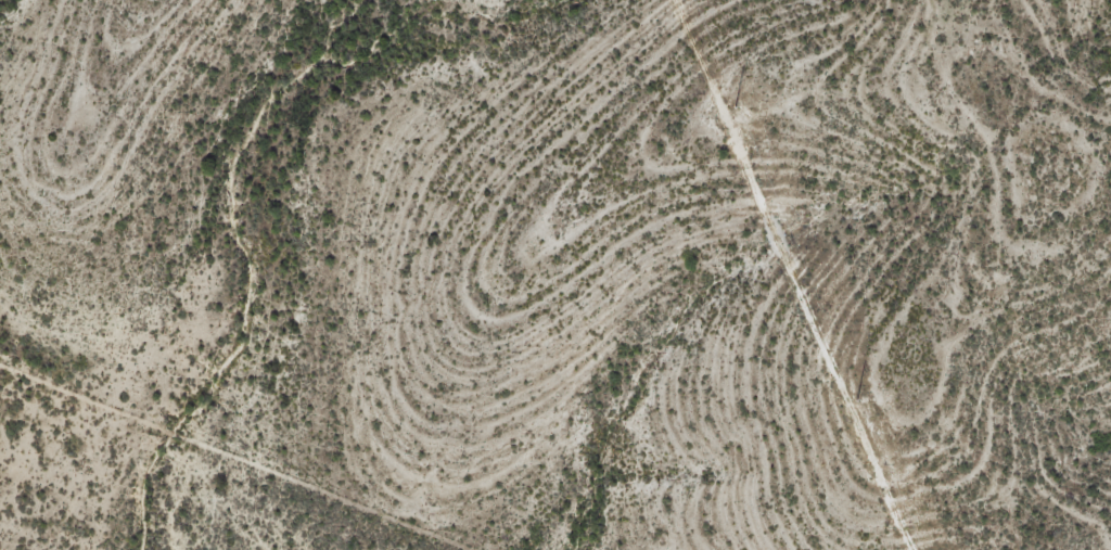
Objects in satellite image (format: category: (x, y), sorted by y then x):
power tower: (736, 101)
power tower: (856, 395)

